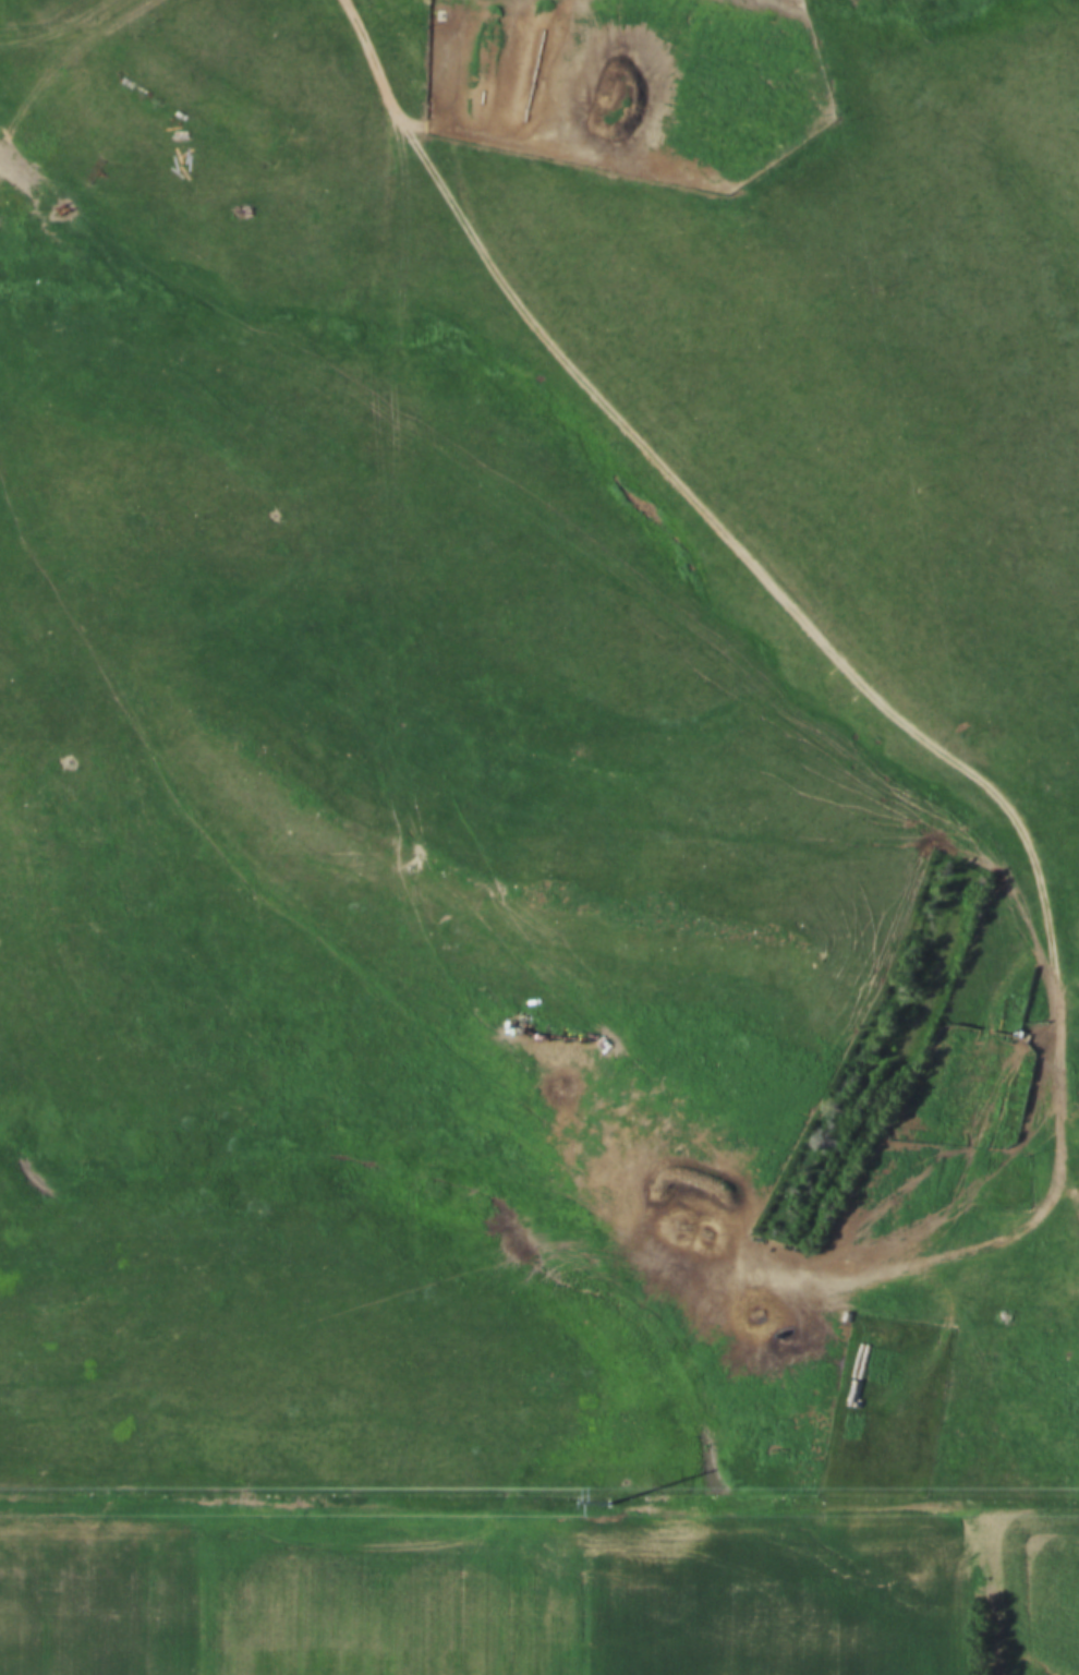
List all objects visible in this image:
building: (214, 106)
road: (778, 593)
building: (960, 1180)
power tower: (603, 1501)

